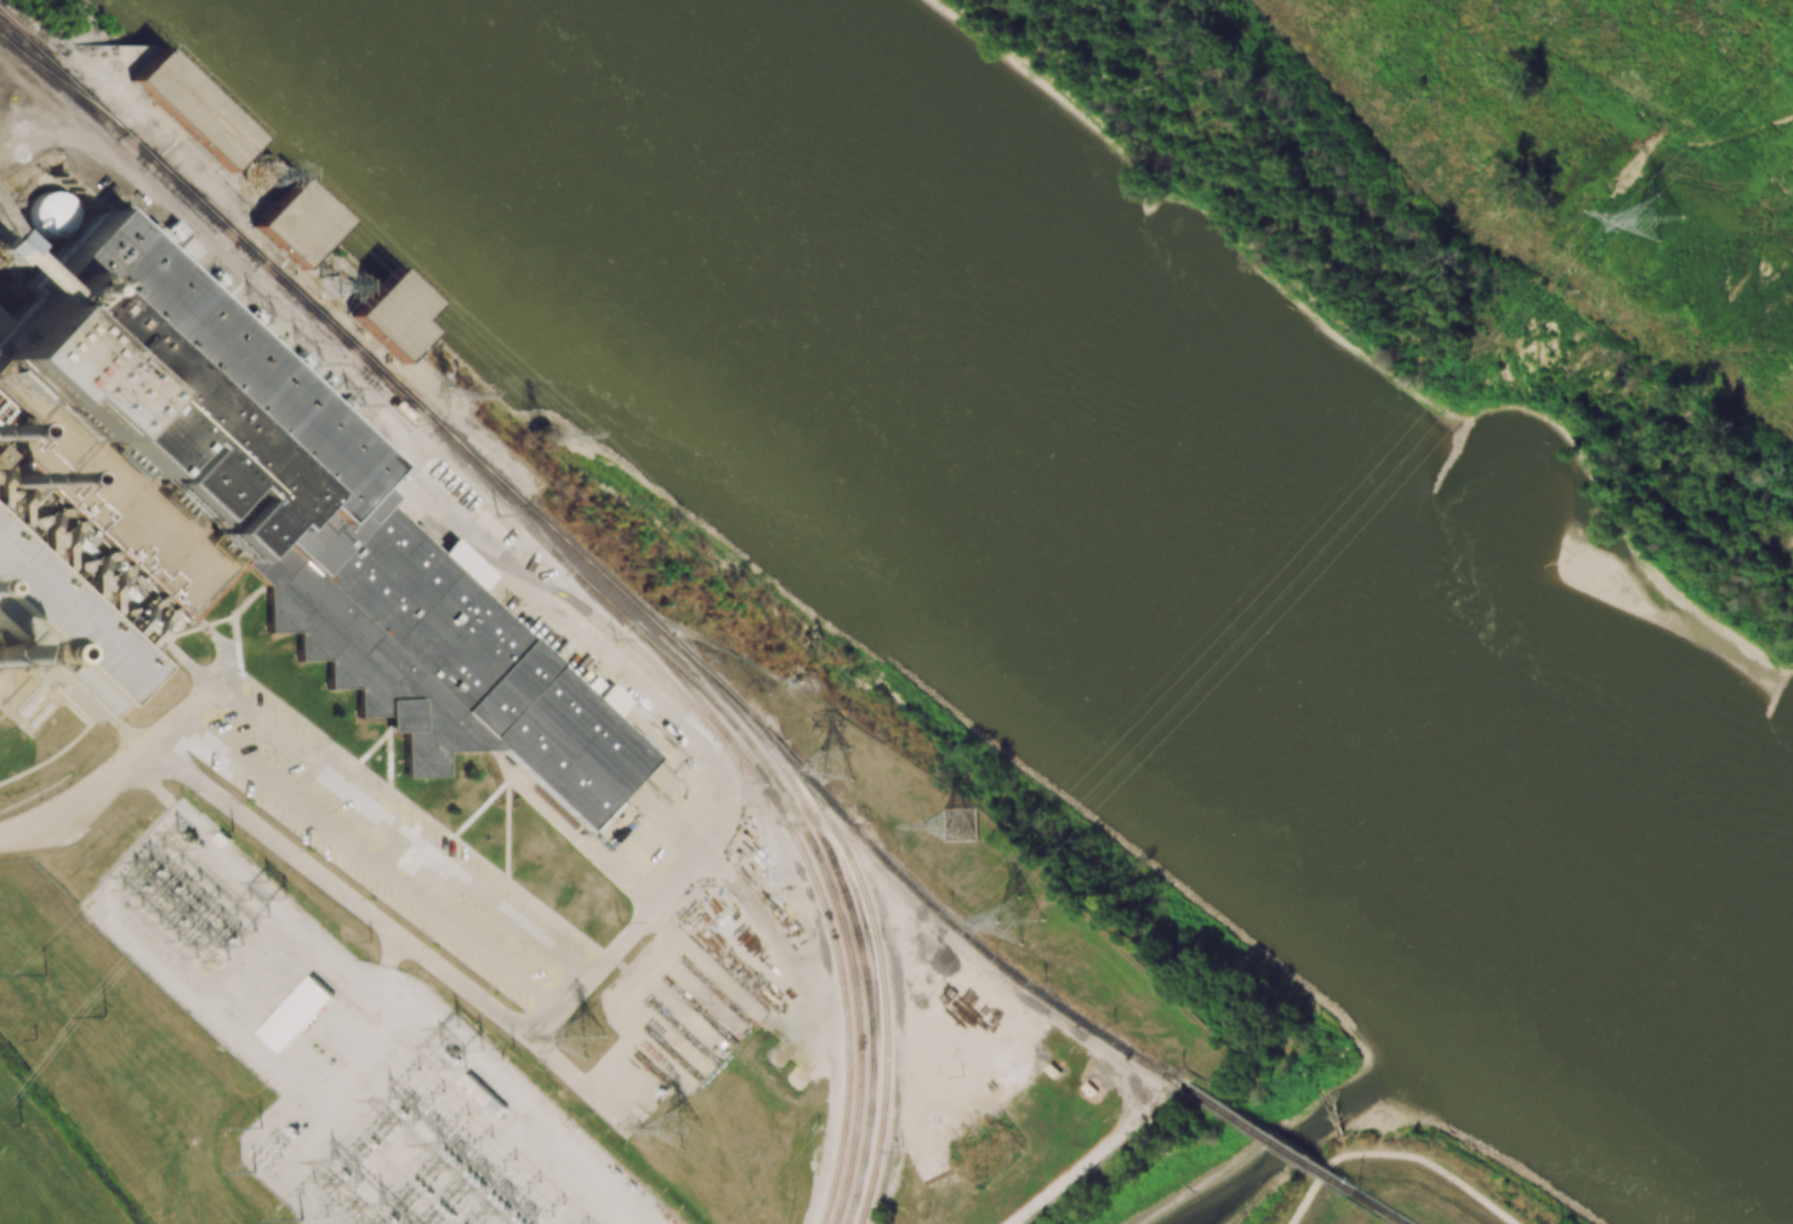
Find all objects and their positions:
railway: (44, 56)
building: (189, 109)
power tower: (267, 176)
railway: (194, 209)
building: (66, 214)
power tower: (1662, 222)
building: (294, 223)
power tower: (169, 234)
building: (0, 246)
power tower: (214, 281)
power tower: (325, 288)
railway: (273, 294)
building: (389, 315)
power tower: (252, 317)
railway: (340, 331)
power tower: (300, 359)
power tower: (450, 394)
power tower: (345, 403)
power tower: (548, 439)
chimney: (12, 483)
river: (1132, 522)
building: (241, 535)
power plant: (241, 535)
power tower: (802, 674)
railway: (698, 700)
power tower: (838, 765)
railway: (751, 770)
road: (114, 773)
railway: (803, 781)
power tower: (963, 826)
road: (385, 872)
road: (467, 877)
power tower: (272, 896)
railway: (836, 906)
railway: (941, 911)
power tower: (1019, 920)
railway: (853, 924)
building: (296, 1013)
power tower: (104, 1015)
power tower: (585, 1040)
power tower: (473, 1042)
power substation: (352, 1055)
power tower: (19, 1125)
power tower: (681, 1125)
railway: (1269, 1139)
road: (1395, 1154)
railway: (1384, 1209)

